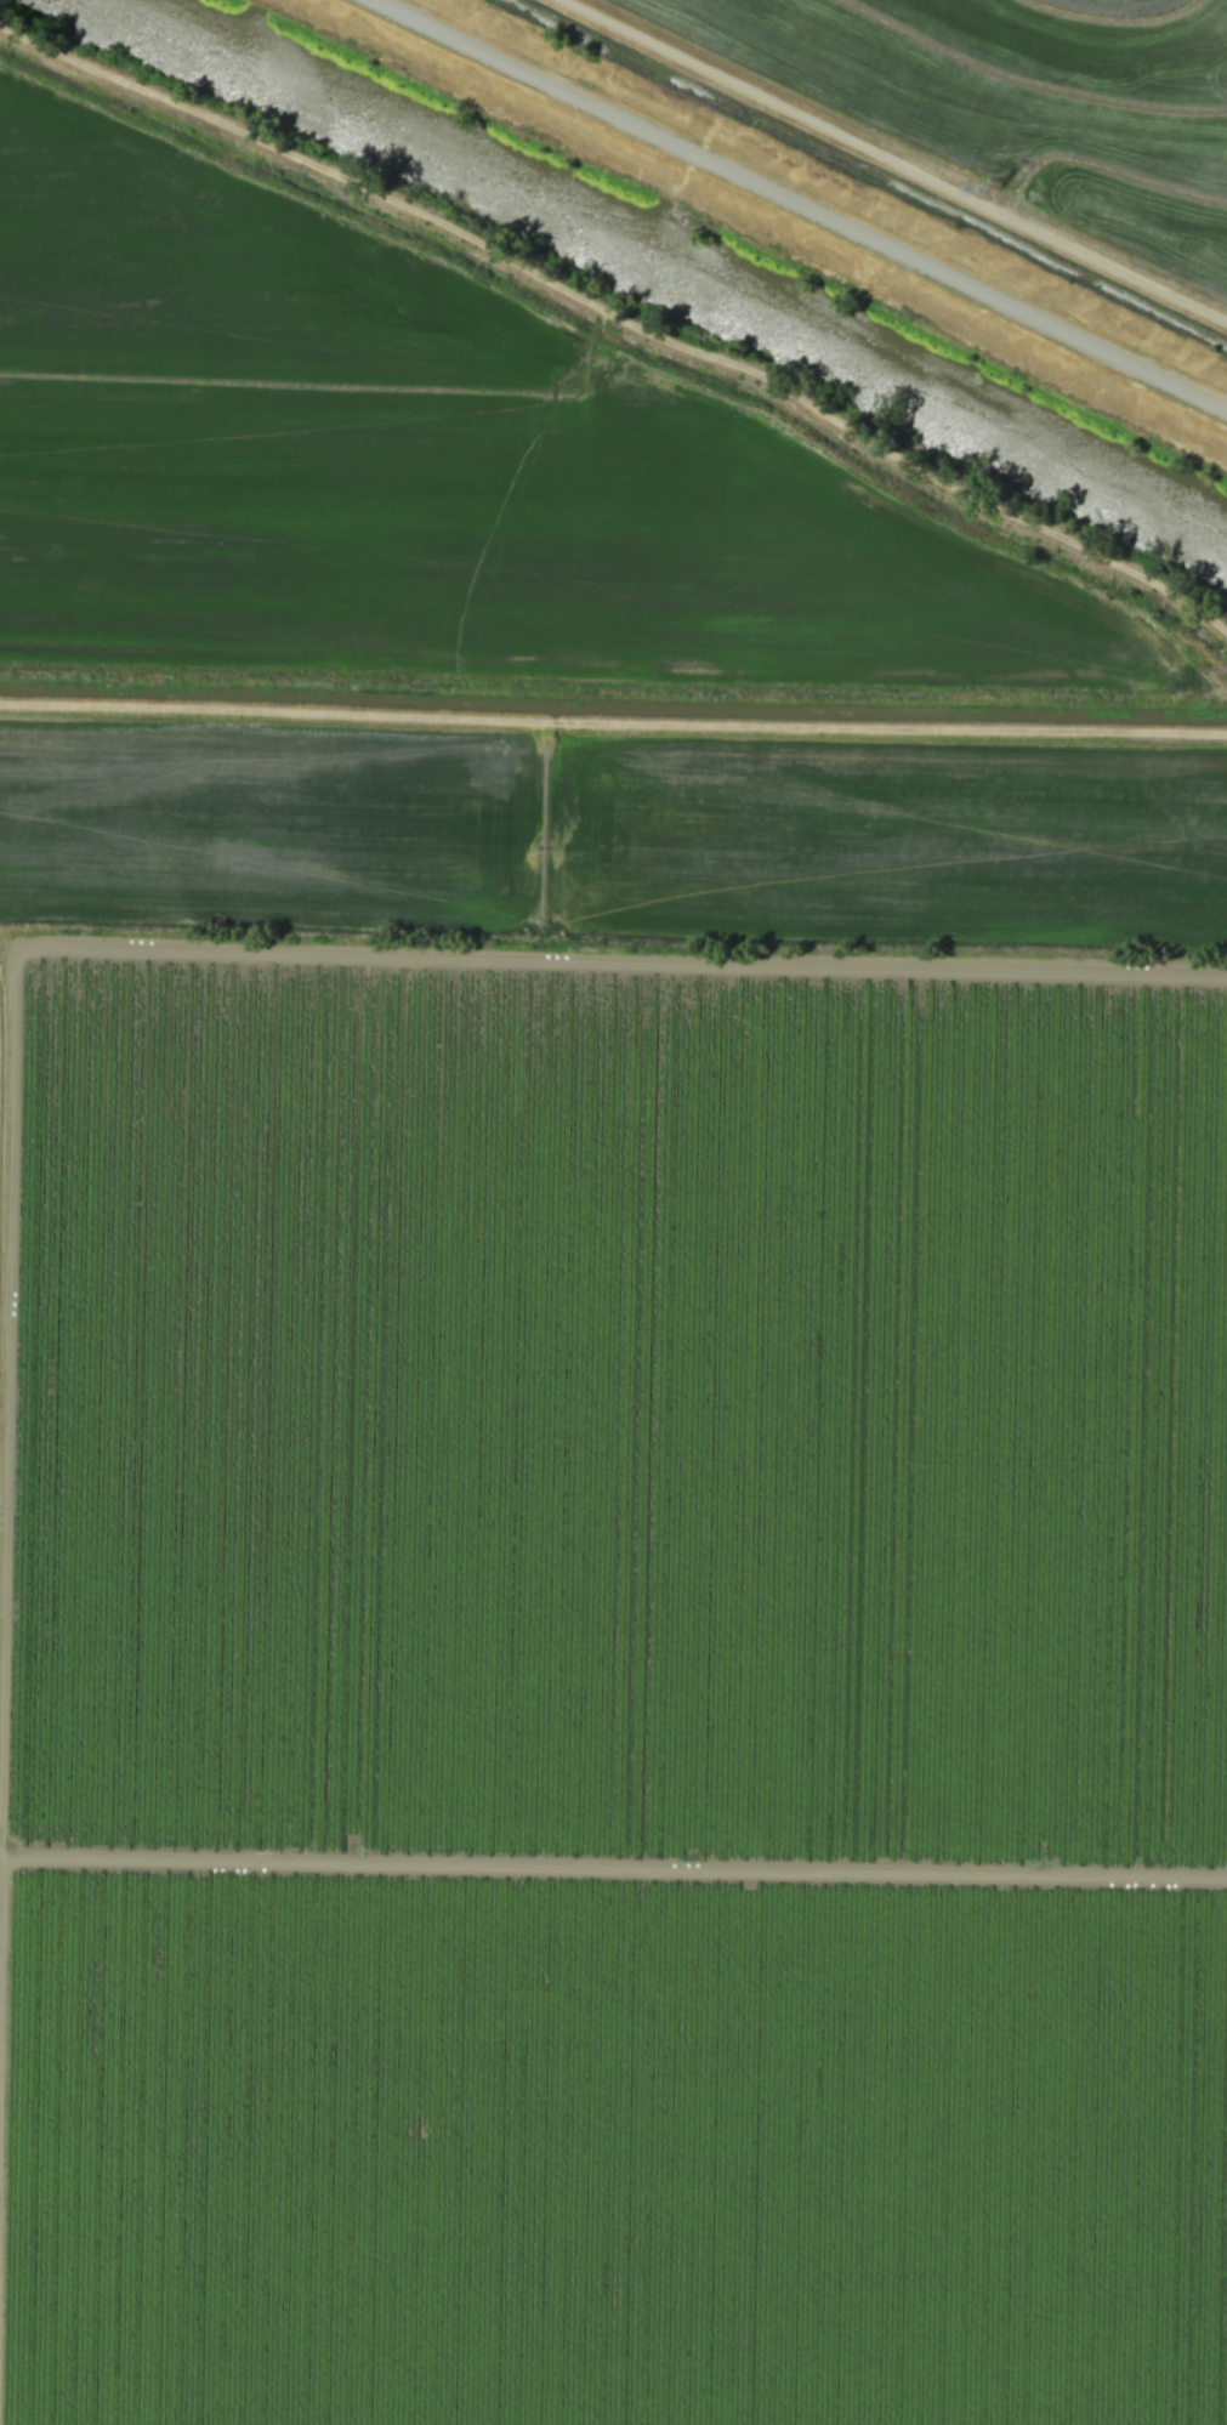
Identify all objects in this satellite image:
crop: (1002, 121)
power tower: (999, 194)
road: (791, 206)

